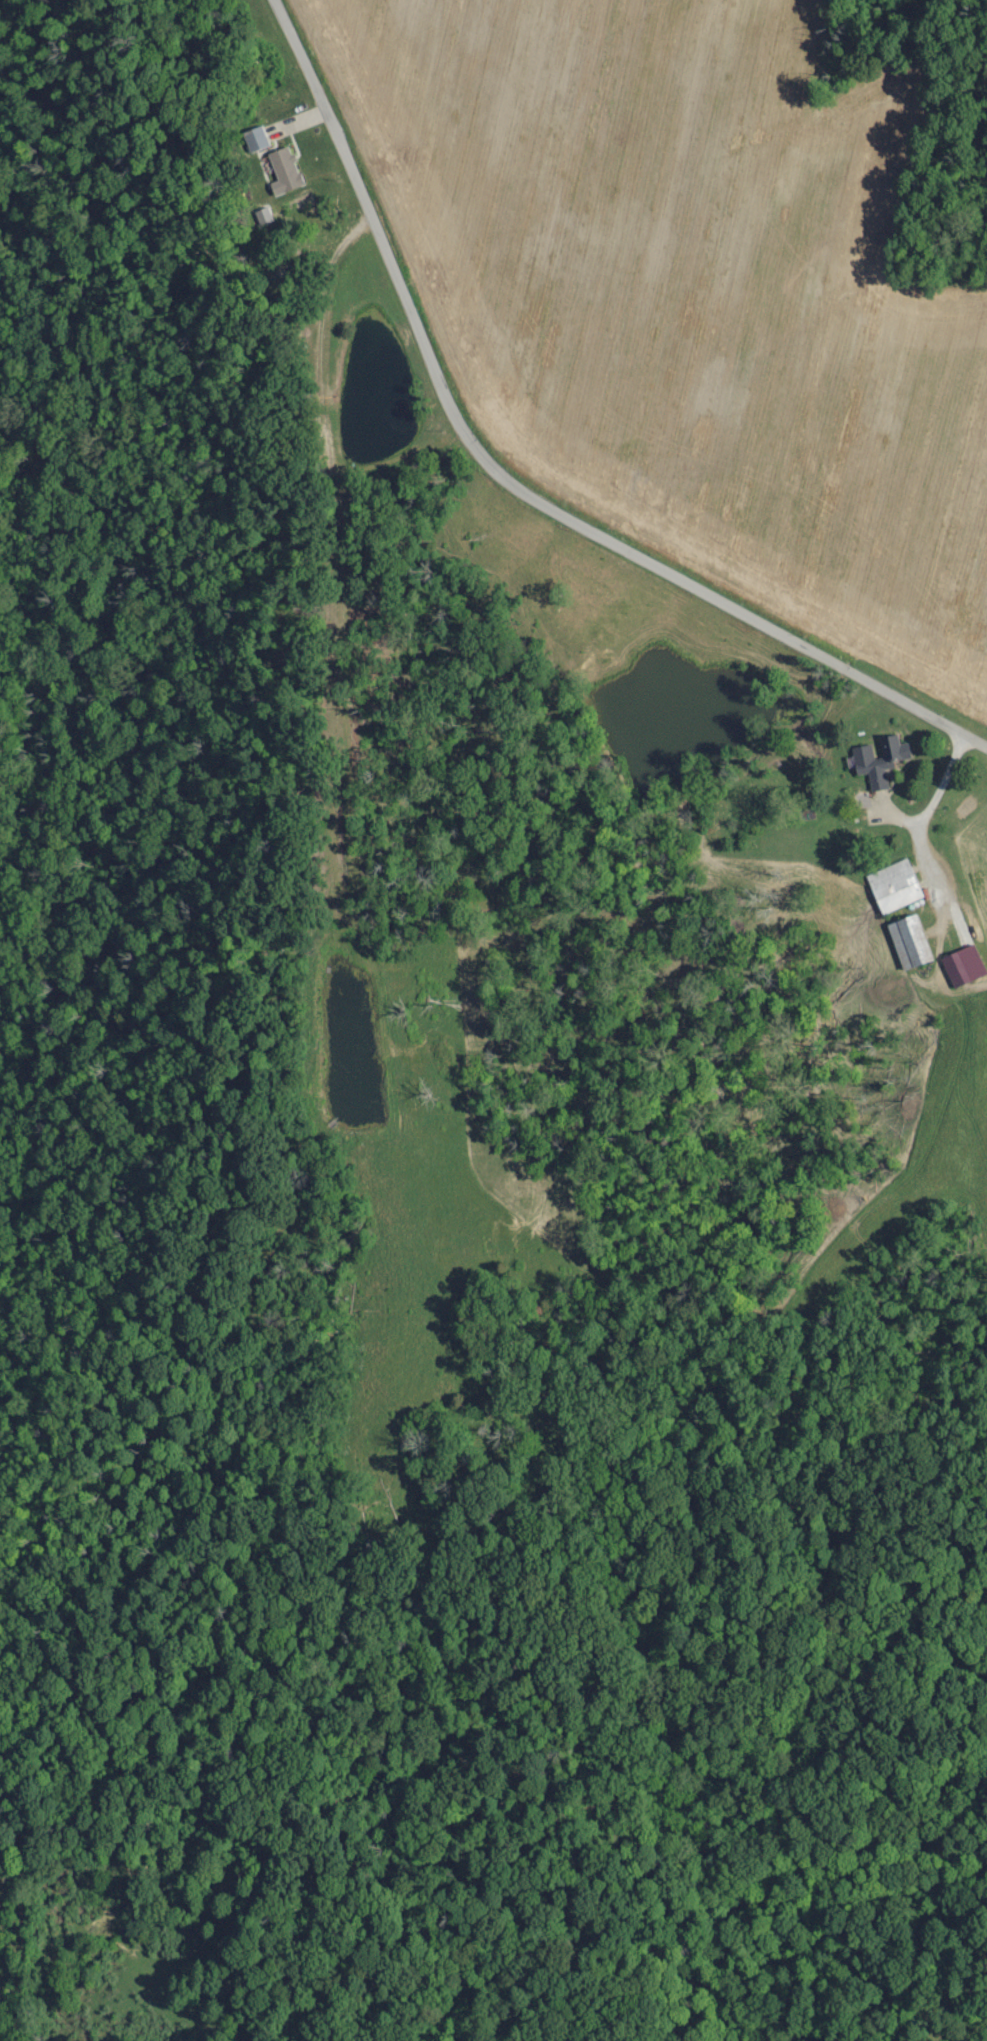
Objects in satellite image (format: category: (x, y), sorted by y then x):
building: (258, 139)
building: (287, 171)
road: (509, 485)
building: (881, 761)
road: (928, 805)
building: (897, 887)
building: (912, 943)

